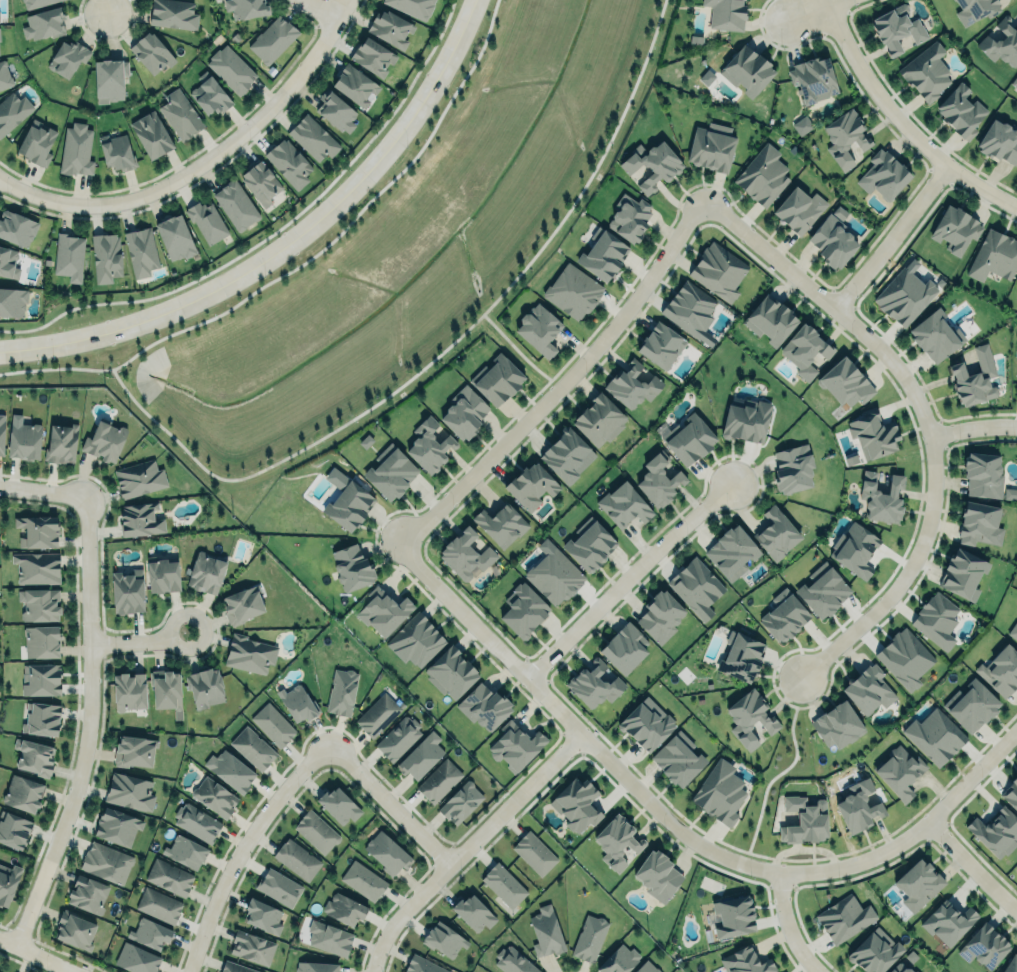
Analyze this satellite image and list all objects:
building: (35, 3)
road: (107, 3)
road: (338, 3)
building: (414, 6)
building: (245, 7)
building: (975, 9)
road: (815, 10)
building: (174, 13)
building: (726, 14)
building: (44, 23)
building: (390, 28)
building: (896, 29)
building: (272, 37)
building: (1001, 43)
building: (152, 53)
building: (372, 53)
building: (67, 57)
building: (231, 67)
building: (746, 70)
building: (926, 72)
building: (4, 75)
building: (811, 77)
building: (109, 79)
building: (1014, 82)
building: (355, 86)
building: (209, 92)
building: (335, 109)
building: (12, 111)
building: (961, 112)
building: (180, 114)
road: (899, 122)
building: (802, 125)
building: (151, 134)
building: (313, 135)
building: (845, 137)
building: (1000, 141)
building: (36, 143)
building: (712, 147)
building: (77, 149)
building: (117, 150)
road: (204, 162)
building: (288, 162)
building: (652, 164)
building: (883, 175)
building: (762, 176)
building: (260, 179)
building: (235, 202)
building: (798, 209)
building: (629, 217)
building: (207, 221)
building: (16, 227)
building: (955, 230)
building: (175, 235)
road: (888, 235)
building: (831, 242)
road: (287, 243)
building: (141, 249)
building: (106, 255)
building: (603, 255)
building: (69, 256)
building: (994, 256)
building: (8, 260)
road: (302, 262)
building: (718, 271)
building: (1016, 282)
building: (1016, 285)
building: (573, 291)
building: (904, 297)
building: (12, 299)
building: (689, 308)
building: (770, 320)
building: (538, 329)
building: (934, 335)
building: (661, 346)
building: (805, 350)
road: (518, 352)
road: (429, 360)
building: (974, 379)
building: (497, 380)
building: (846, 383)
building: (1015, 383)
road: (562, 384)
building: (632, 384)
building: (463, 412)
road: (920, 414)
building: (598, 420)
road: (970, 421)
building: (746, 422)
building: (1, 430)
building: (873, 434)
building: (24, 438)
building: (688, 438)
building: (104, 439)
building: (61, 442)
building: (429, 446)
building: (568, 455)
building: (793, 466)
building: (390, 472)
building: (982, 472)
building: (139, 477)
building: (658, 481)
building: (531, 486)
road: (40, 490)
building: (1010, 493)
building: (881, 497)
building: (624, 506)
building: (349, 507)
building: (141, 519)
building: (978, 521)
building: (500, 524)
building: (37, 531)
building: (776, 531)
building: (589, 546)
building: (853, 549)
building: (731, 550)
building: (465, 555)
building: (351, 565)
building: (36, 567)
building: (205, 571)
building: (163, 572)
building: (963, 574)
building: (555, 576)
road: (621, 578)
building: (696, 587)
building: (823, 588)
building: (126, 591)
building: (39, 602)
building: (242, 602)
building: (382, 609)
building: (524, 611)
building: (784, 614)
building: (660, 615)
building: (935, 619)
building: (1013, 631)
building: (414, 638)
building: (41, 641)
road: (136, 646)
building: (624, 646)
building: (249, 652)
building: (741, 654)
building: (904, 656)
building: (1000, 669)
building: (450, 670)
building: (606, 675)
building: (41, 677)
building: (594, 683)
building: (204, 686)
building: (166, 687)
building: (867, 687)
building: (341, 690)
building: (129, 691)
building: (296, 701)
building: (970, 703)
building: (483, 706)
building: (377, 713)
building: (750, 716)
building: (41, 717)
building: (646, 722)
road: (86, 723)
building: (273, 723)
building: (836, 723)
building: (933, 735)
building: (398, 738)
building: (515, 744)
building: (252, 748)
building: (134, 751)
building: (34, 754)
building: (420, 754)
building: (678, 759)
building: (229, 769)
road: (781, 770)
building: (899, 772)
building: (438, 780)
building: (129, 790)
building: (720, 791)
building: (1011, 791)
building: (22, 793)
building: (214, 795)
building: (460, 801)
road: (389, 802)
building: (576, 802)
building: (857, 804)
building: (338, 805)
building: (804, 819)
building: (196, 822)
building: (117, 826)
building: (13, 828)
building: (995, 830)
building: (315, 831)
road: (681, 834)
building: (616, 840)
road: (467, 846)
road: (242, 847)
building: (185, 849)
building: (387, 851)
building: (534, 853)
building: (296, 857)
building: (106, 861)
road: (965, 867)
building: (657, 874)
building: (169, 877)
building: (363, 879)
building: (7, 880)
building: (918, 884)
building: (503, 885)
building: (278, 887)
building: (87, 892)
building: (158, 903)
building: (344, 908)
building: (473, 911)
building: (734, 914)
building: (262, 916)
building: (843, 916)
building: (946, 920)
road: (787, 924)
building: (74, 930)
building: (545, 930)
building: (150, 933)
building: (589, 937)
building: (329, 938)
building: (443, 938)
building: (983, 944)
building: (252, 947)
building: (874, 950)
road: (38, 954)
building: (136, 958)
building: (618, 959)
building: (746, 960)
building: (513, 961)
building: (904, 962)
building: (422, 964)
building: (1010, 964)
building: (236, 966)
building: (316, 967)
building: (646, 967)

